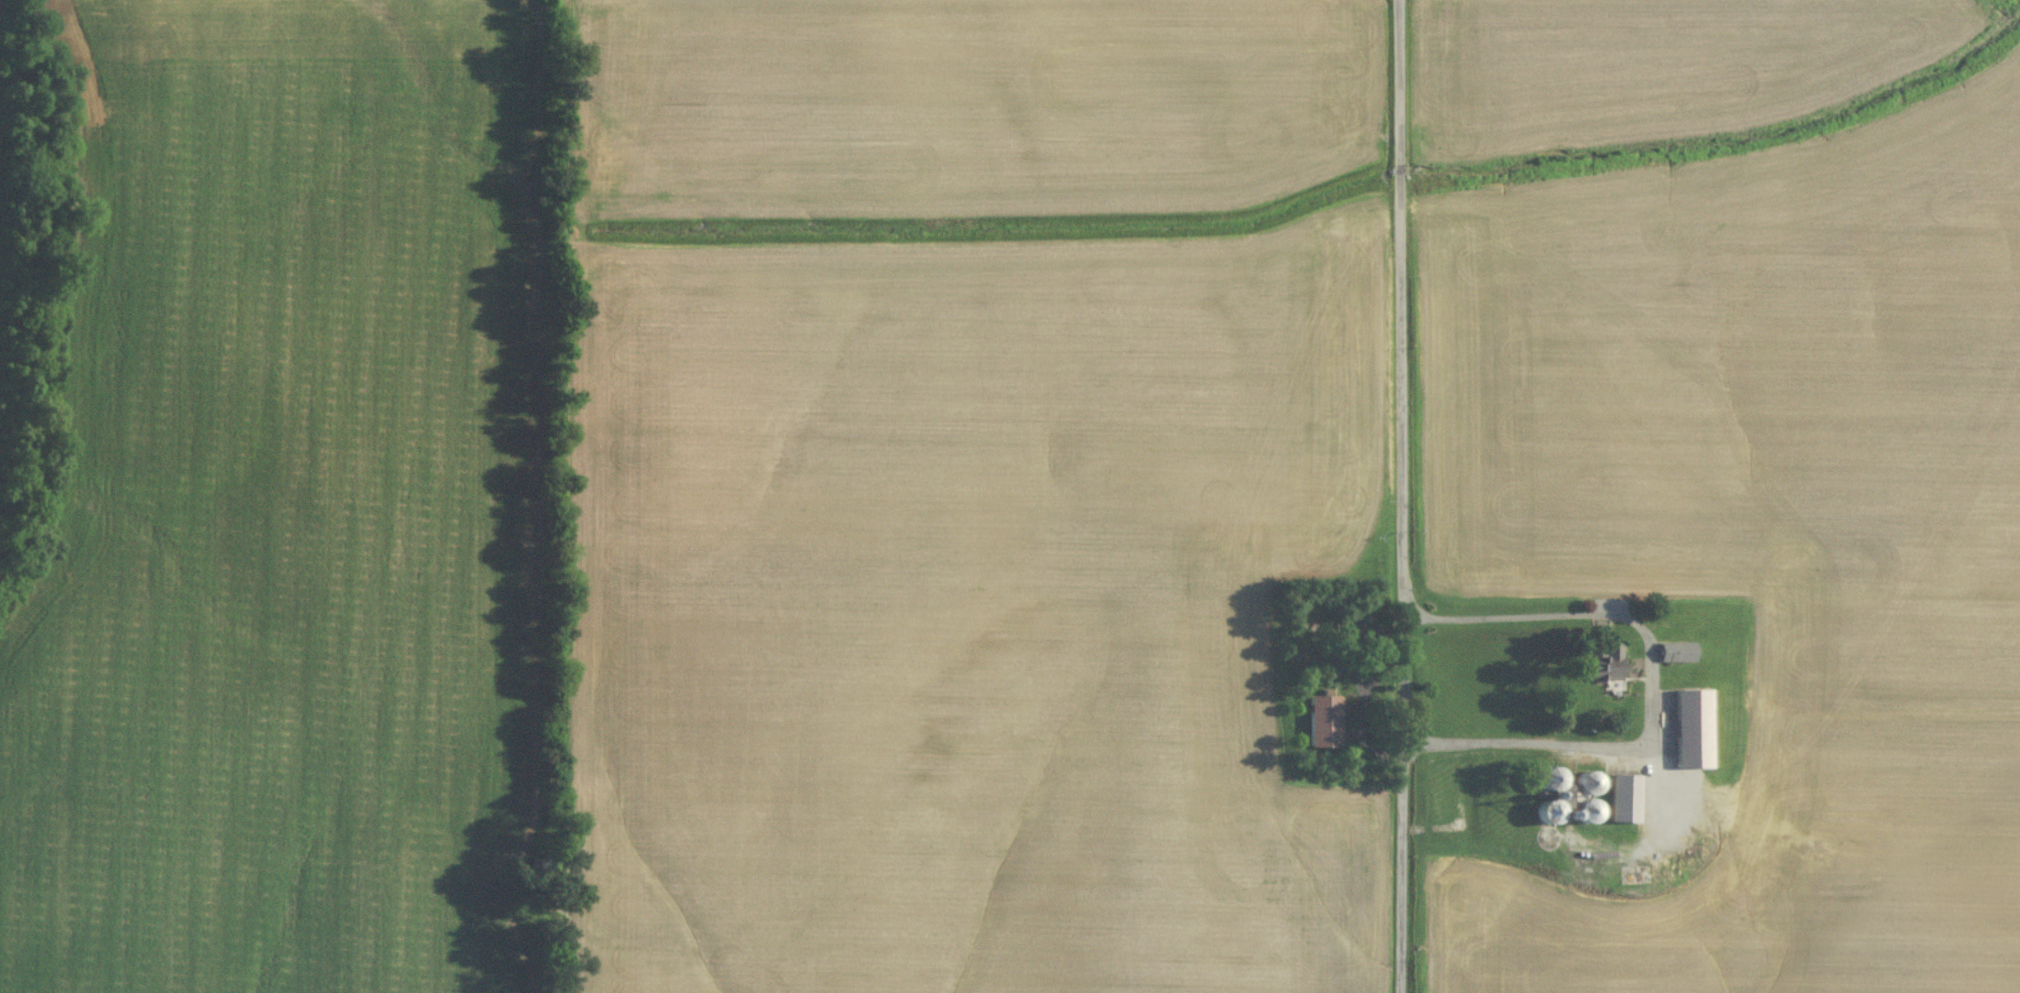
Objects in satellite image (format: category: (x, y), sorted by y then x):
building: (1863, 69)
road: (1401, 496)
building: (1357, 630)
building: (1674, 654)
building: (1601, 668)
road: (1648, 679)
building: (1322, 724)
building: (1690, 731)
building: (1548, 780)
building: (1585, 784)
building: (1623, 800)
building: (1585, 812)
building: (1544, 814)

